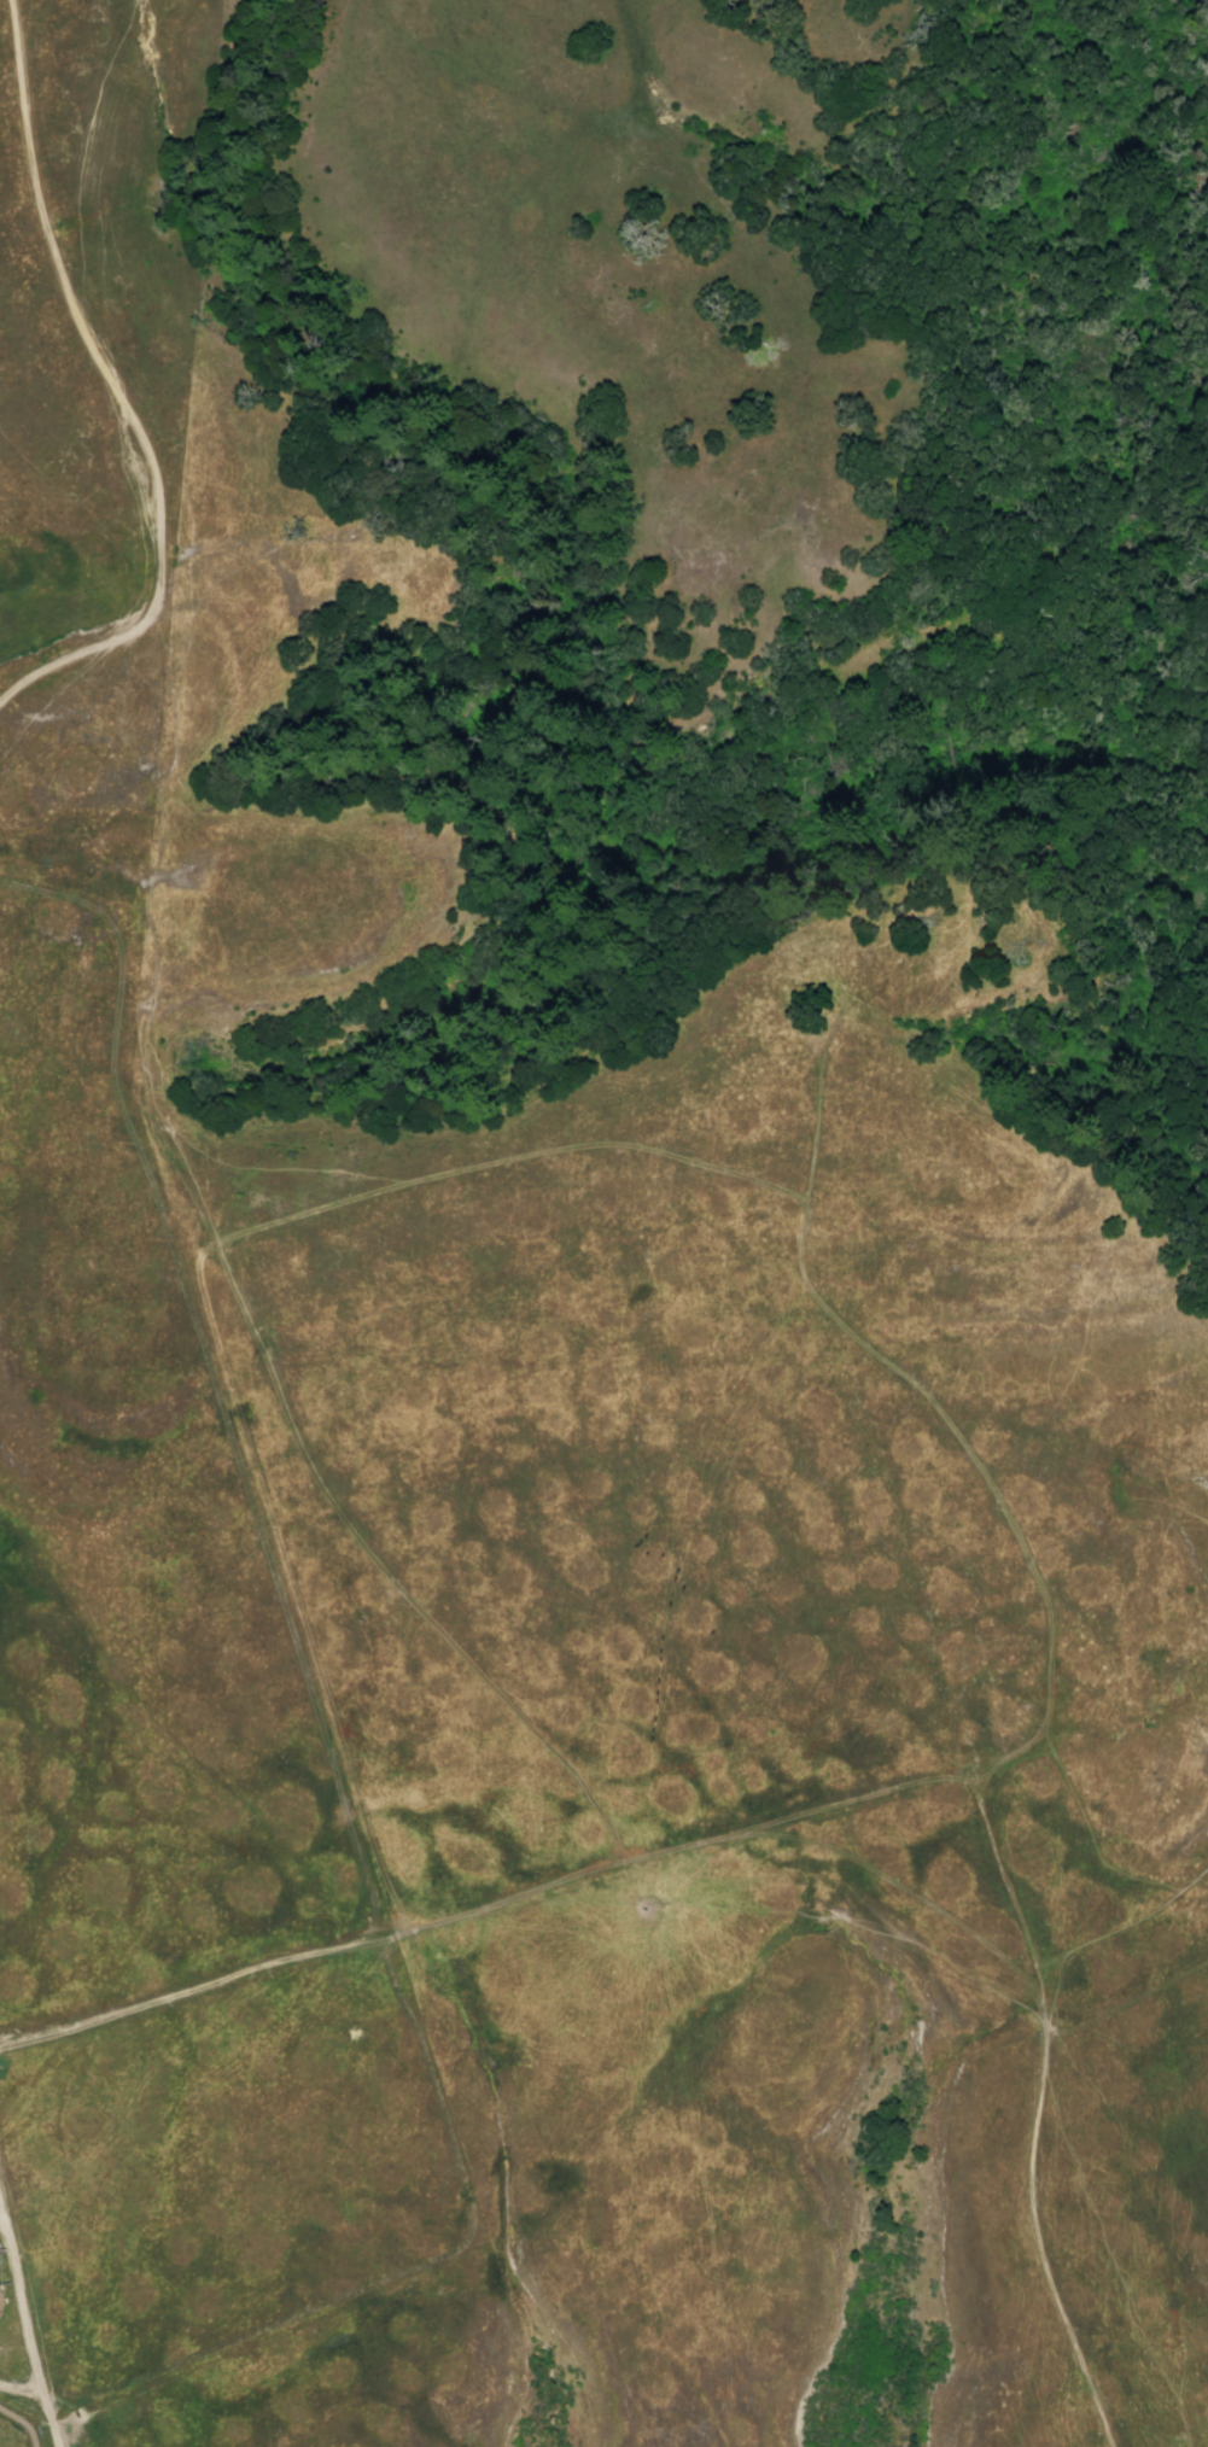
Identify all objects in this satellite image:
road: (11, 4)
road: (154, 118)
road: (214, 268)
road: (255, 333)
road: (216, 335)
road: (122, 395)
road: (235, 490)
road: (314, 783)
road: (156, 849)
road: (819, 1117)
road: (284, 1161)
road: (799, 1240)
road: (216, 1245)
crop: (161, 1505)
road: (1093, 1824)
road: (608, 1836)
road: (380, 1870)
road: (918, 1896)
crop: (635, 1925)
road: (1093, 1941)
road: (1134, 1953)
road: (192, 1987)
road: (1041, 2108)
road: (2, 2219)
road: (27, 2320)
road: (19, 2388)

